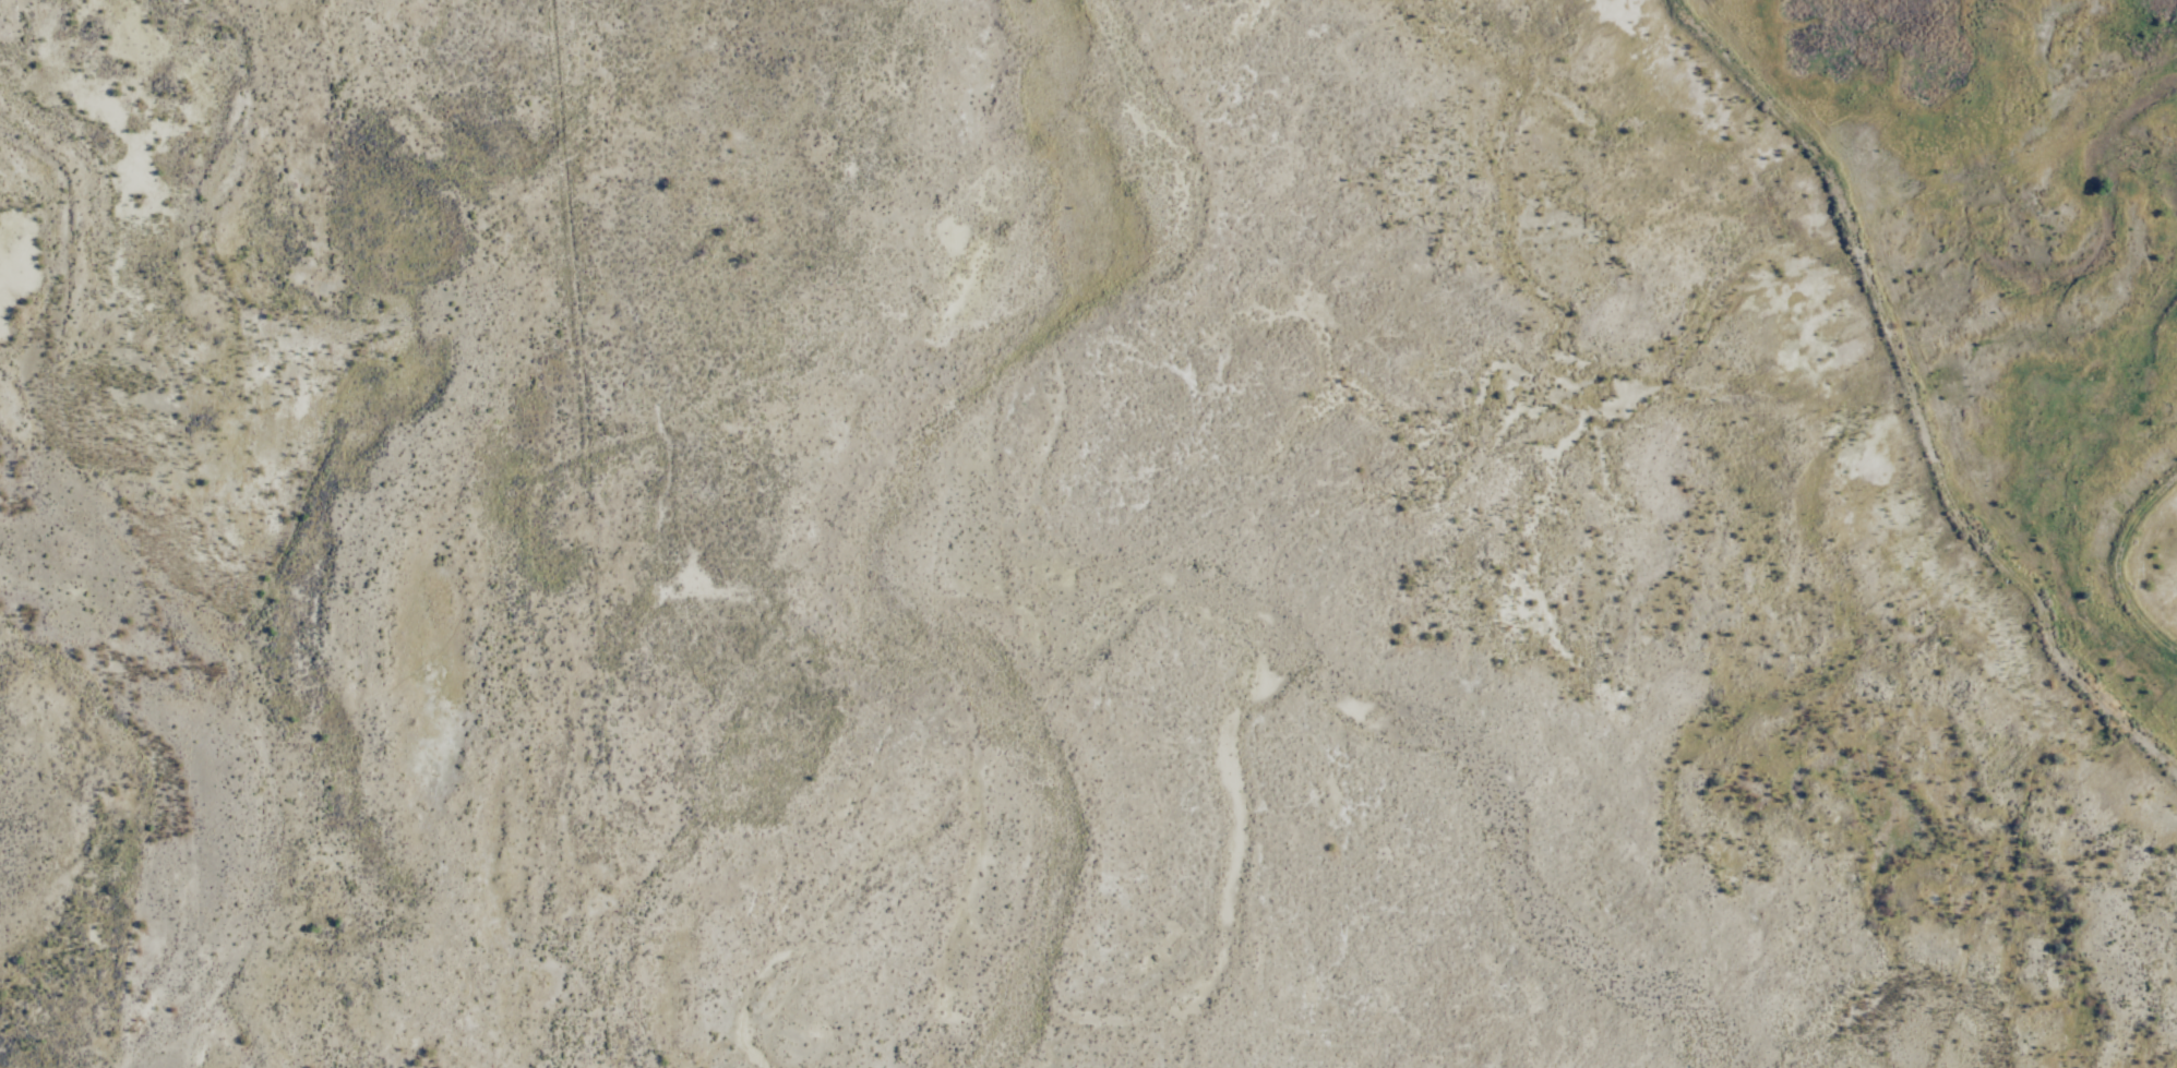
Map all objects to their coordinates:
road: (2105, 567)

